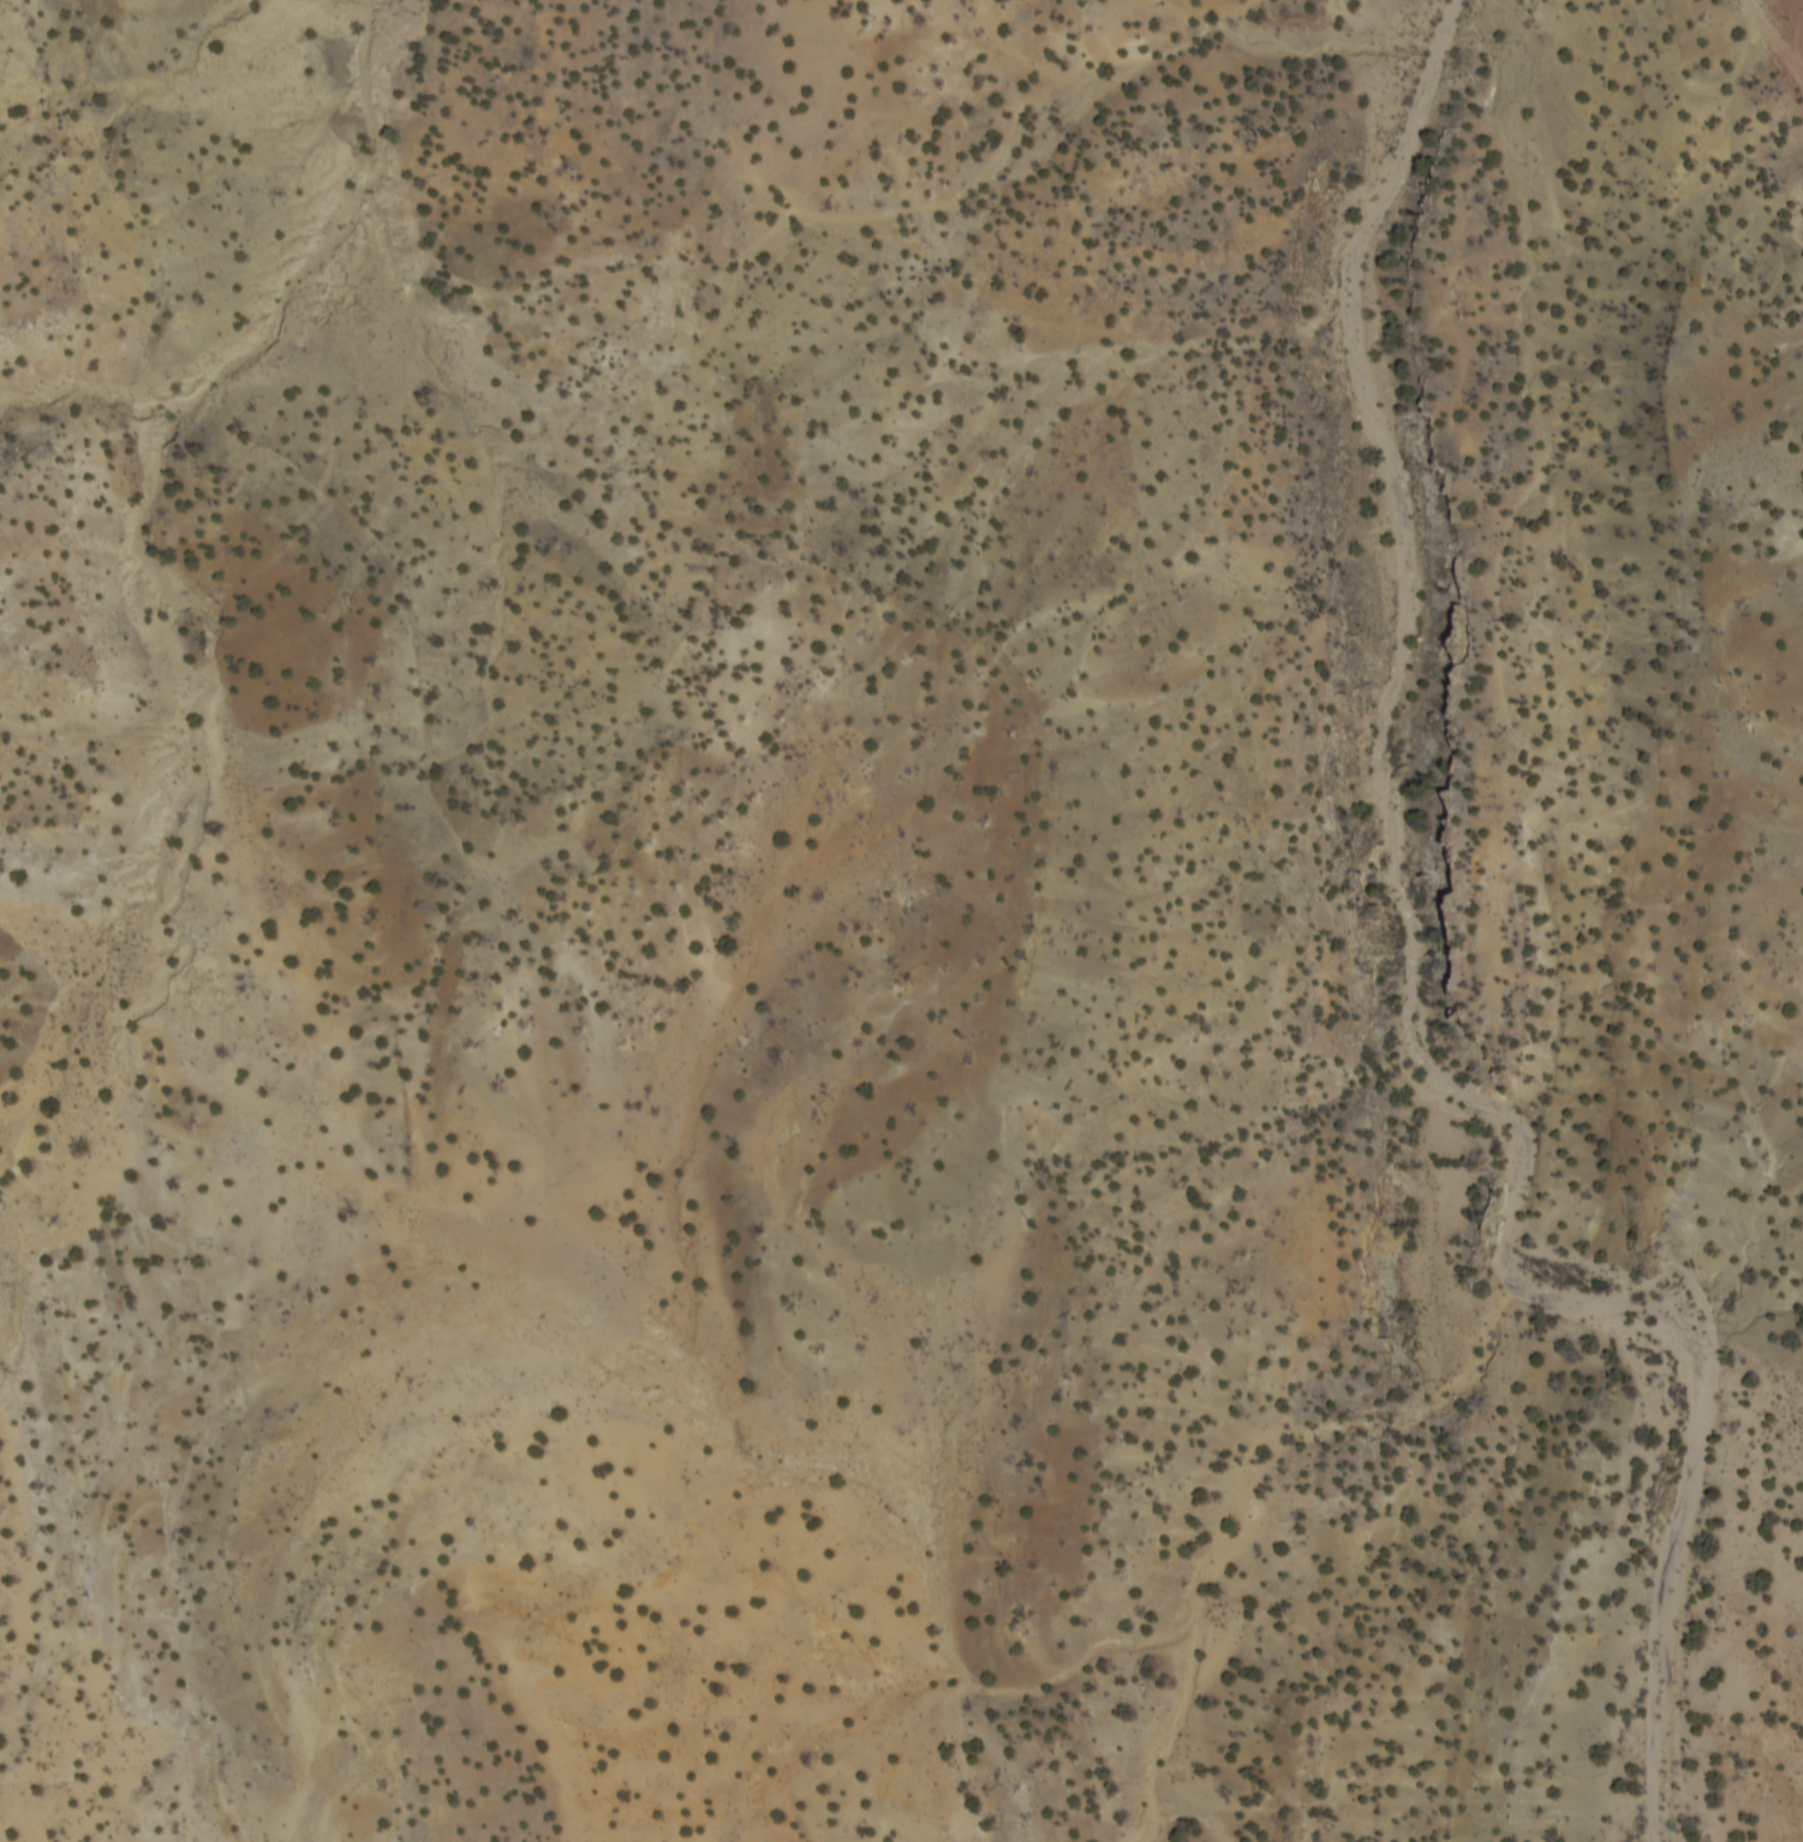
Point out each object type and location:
road: (1783, 28)

